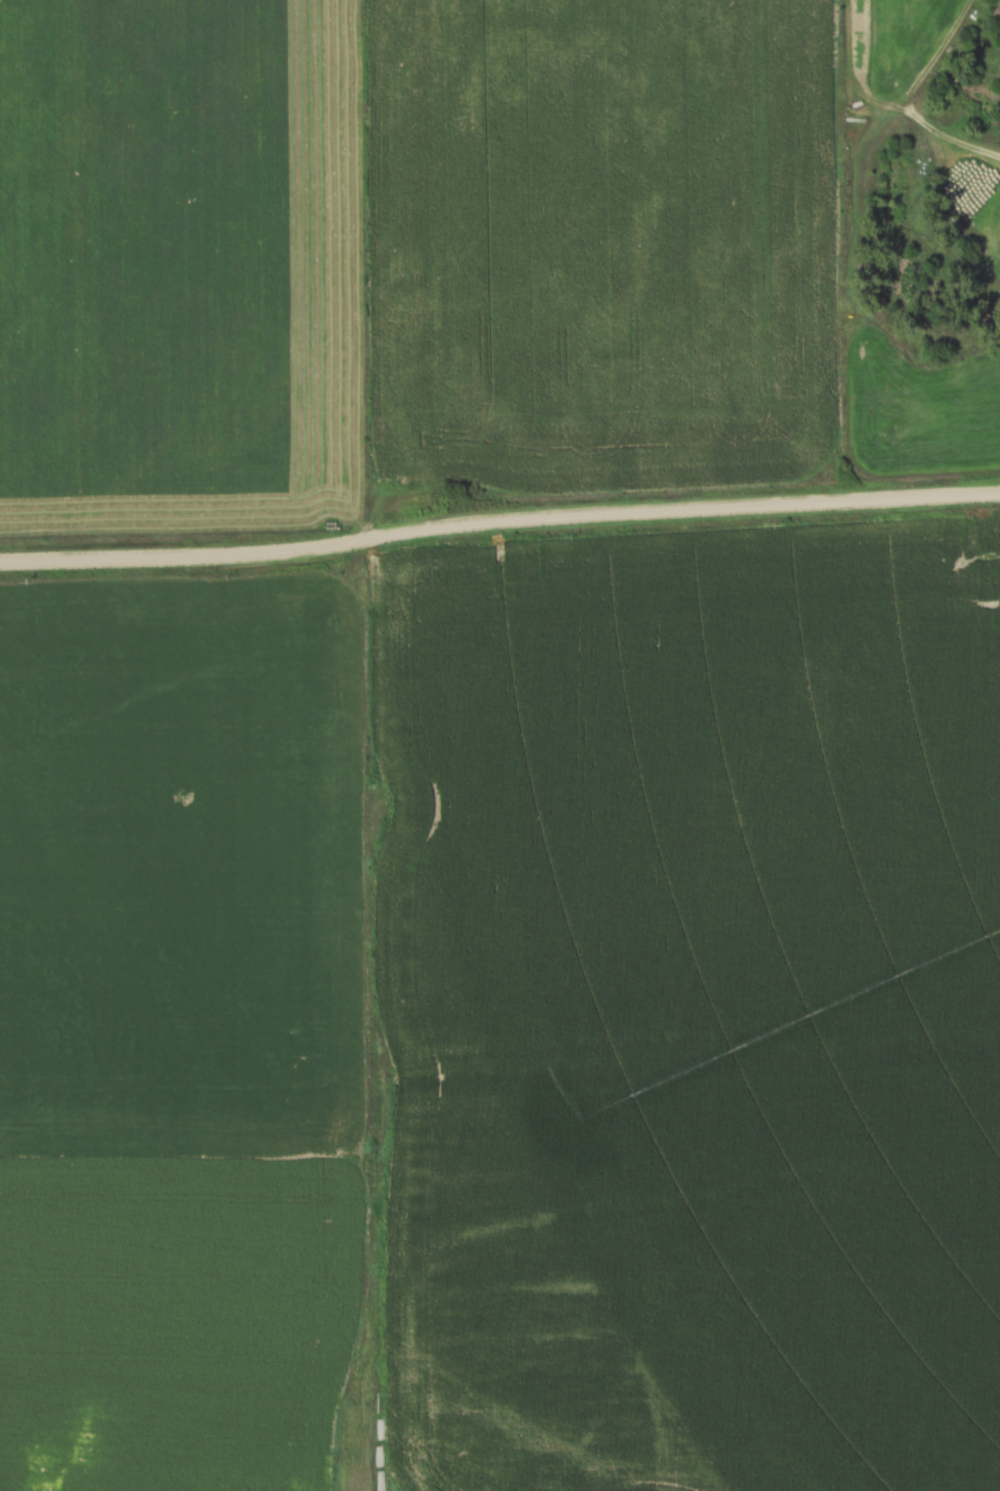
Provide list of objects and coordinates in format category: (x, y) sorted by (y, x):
road: (703, 514)
road: (204, 557)

